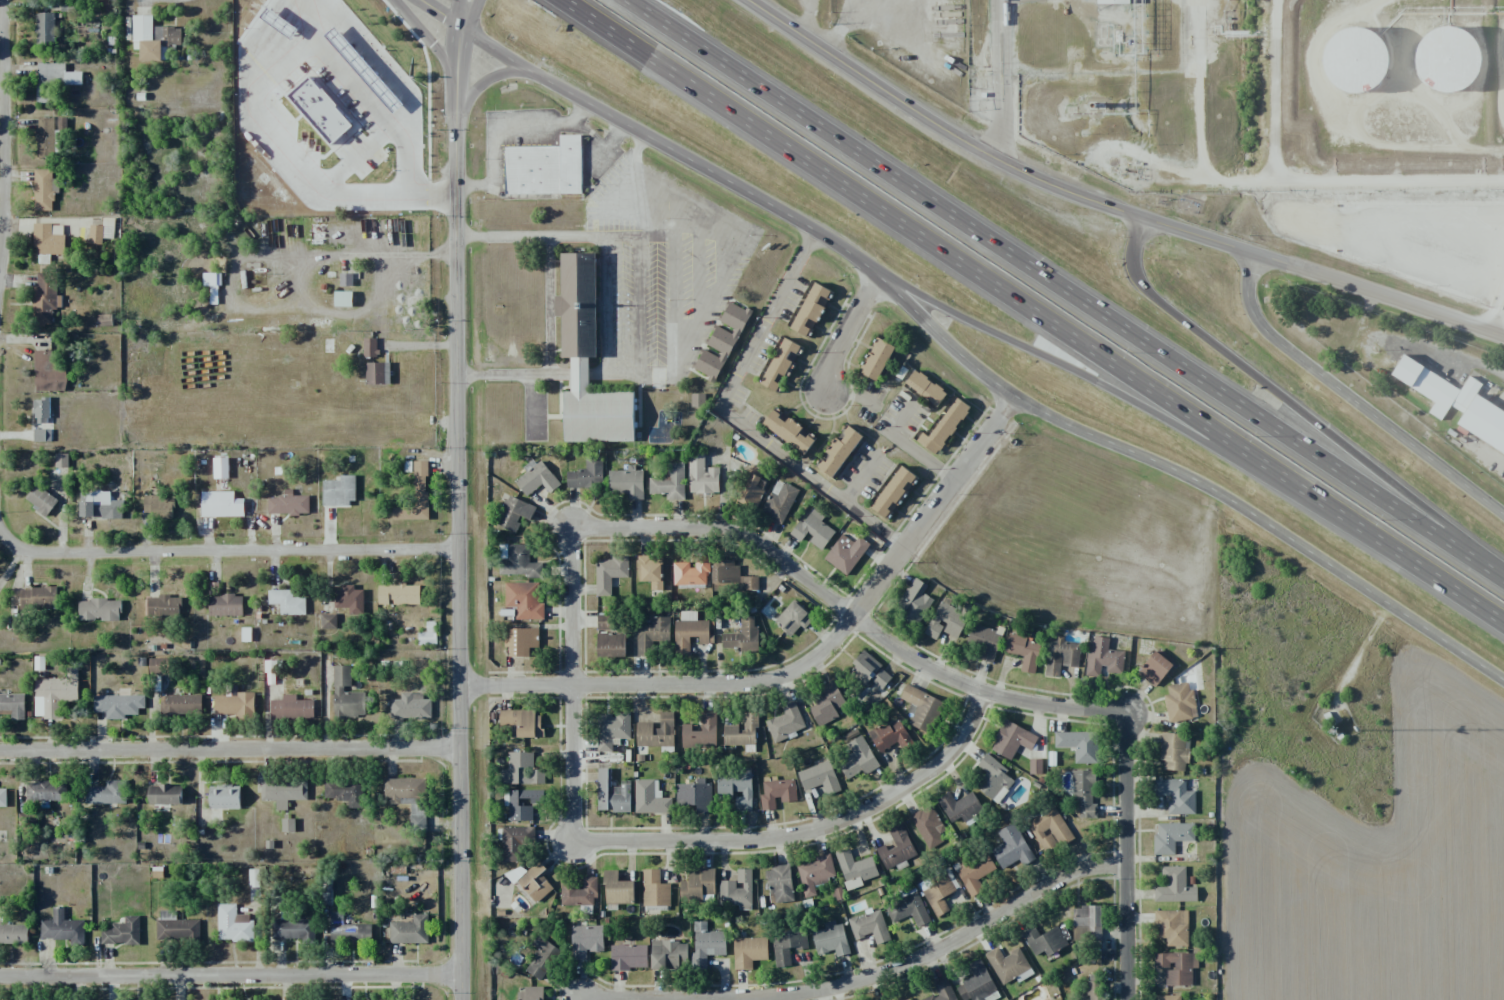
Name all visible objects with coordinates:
building: (1117, 5)
building: (327, 13)
gas station: (327, 13)
road: (441, 15)
building: (249, 21)
building: (44, 28)
building: (152, 37)
road: (431, 37)
road: (0, 50)
building: (1464, 69)
storage tank: (1464, 69)
building: (353, 70)
building: (1373, 70)
storage tank: (1373, 70)
road: (482, 79)
building: (54, 81)
road: (937, 123)
building: (50, 136)
building: (545, 168)
road: (1299, 178)
building: (44, 189)
building: (407, 192)
road: (750, 195)
building: (101, 231)
road: (1199, 239)
building: (48, 241)
building: (345, 279)
road: (1063, 292)
building: (45, 295)
road: (1381, 298)
building: (343, 299)
building: (811, 309)
road: (1033, 309)
road: (844, 332)
building: (721, 343)
road: (1049, 356)
building: (876, 359)
building: (587, 360)
building: (779, 364)
building: (49, 370)
building: (377, 373)
building: (925, 388)
road: (1354, 398)
building: (698, 400)
road: (1295, 409)
building: (41, 411)
building: (1488, 425)
building: (944, 427)
building: (789, 431)
building: (42, 435)
building: (839, 451)
building: (61, 460)
building: (220, 468)
building: (587, 475)
building: (702, 476)
building: (536, 479)
building: (625, 483)
building: (669, 483)
building: (339, 491)
building: (751, 492)
building: (894, 492)
building: (416, 495)
road: (458, 499)
building: (41, 500)
building: (87, 503)
building: (779, 503)
building: (110, 504)
building: (221, 504)
building: (288, 504)
building: (159, 506)
building: (514, 513)
road: (1267, 522)
building: (813, 529)
road: (225, 550)
building: (846, 553)
building: (519, 562)
building: (650, 571)
building: (690, 572)
building: (609, 574)
building: (733, 576)
building: (398, 594)
building: (38, 598)
building: (350, 599)
building: (524, 600)
building: (915, 601)
building: (287, 602)
building: (225, 605)
building: (163, 607)
building: (99, 609)
road: (847, 614)
building: (793, 618)
building: (328, 621)
building: (946, 621)
building: (604, 622)
road: (842, 630)
building: (690, 632)
building: (651, 633)
building: (428, 634)
building: (743, 637)
building: (521, 641)
building: (984, 642)
building: (611, 645)
building: (1024, 651)
building: (1062, 656)
building: (1102, 658)
building: (865, 665)
building: (158, 666)
building: (1155, 668)
building: (881, 679)
road: (573, 688)
road: (517, 689)
building: (55, 694)
building: (347, 695)
building: (1180, 703)
building: (181, 704)
building: (13, 705)
building: (118, 705)
building: (825, 705)
building: (236, 706)
building: (411, 706)
building: (292, 708)
building: (922, 708)
building: (522, 722)
building: (785, 723)
building: (612, 731)
building: (741, 731)
building: (657, 733)
building: (700, 733)
building: (890, 735)
building: (1012, 740)
building: (1079, 745)
road: (231, 748)
building: (1174, 751)
building: (857, 755)
building: (522, 770)
building: (819, 778)
building: (993, 779)
building: (736, 788)
building: (46, 791)
building: (283, 791)
building: (345, 792)
building: (107, 793)
building: (777, 793)
building: (165, 794)
building: (1083, 794)
building: (695, 795)
building: (1175, 796)
building: (3, 797)
building: (224, 797)
building: (408, 798)
building: (650, 798)
building: (511, 804)
building: (960, 807)
building: (288, 825)
building: (928, 827)
building: (1049, 829)
road: (813, 830)
building: (1172, 836)
building: (516, 842)
building: (1011, 847)
building: (897, 848)
road: (1130, 857)
crop: (1377, 860)
building: (855, 869)
building: (975, 872)
building: (815, 874)
building: (531, 881)
building: (780, 883)
building: (697, 885)
building: (1175, 886)
building: (617, 889)
building: (654, 889)
building: (737, 890)
building: (579, 892)
building: (940, 894)
building: (908, 910)
building: (1087, 923)
building: (233, 924)
building: (869, 926)
building: (176, 927)
building: (1172, 927)
building: (63, 928)
building: (295, 929)
building: (348, 930)
building: (410, 930)
building: (122, 932)
building: (14, 933)
building: (831, 939)
building: (586, 941)
building: (1044, 941)
building: (706, 944)
building: (787, 944)
building: (749, 951)
building: (668, 954)
building: (628, 957)
building: (542, 958)
building: (1009, 965)
building: (1177, 967)
road: (231, 975)
road: (867, 977)
building: (977, 984)
building: (1095, 987)
building: (942, 990)
building: (529, 994)
building: (1168, 997)
road: (580, 998)
building: (908, 999)
building: (1051, 999)

